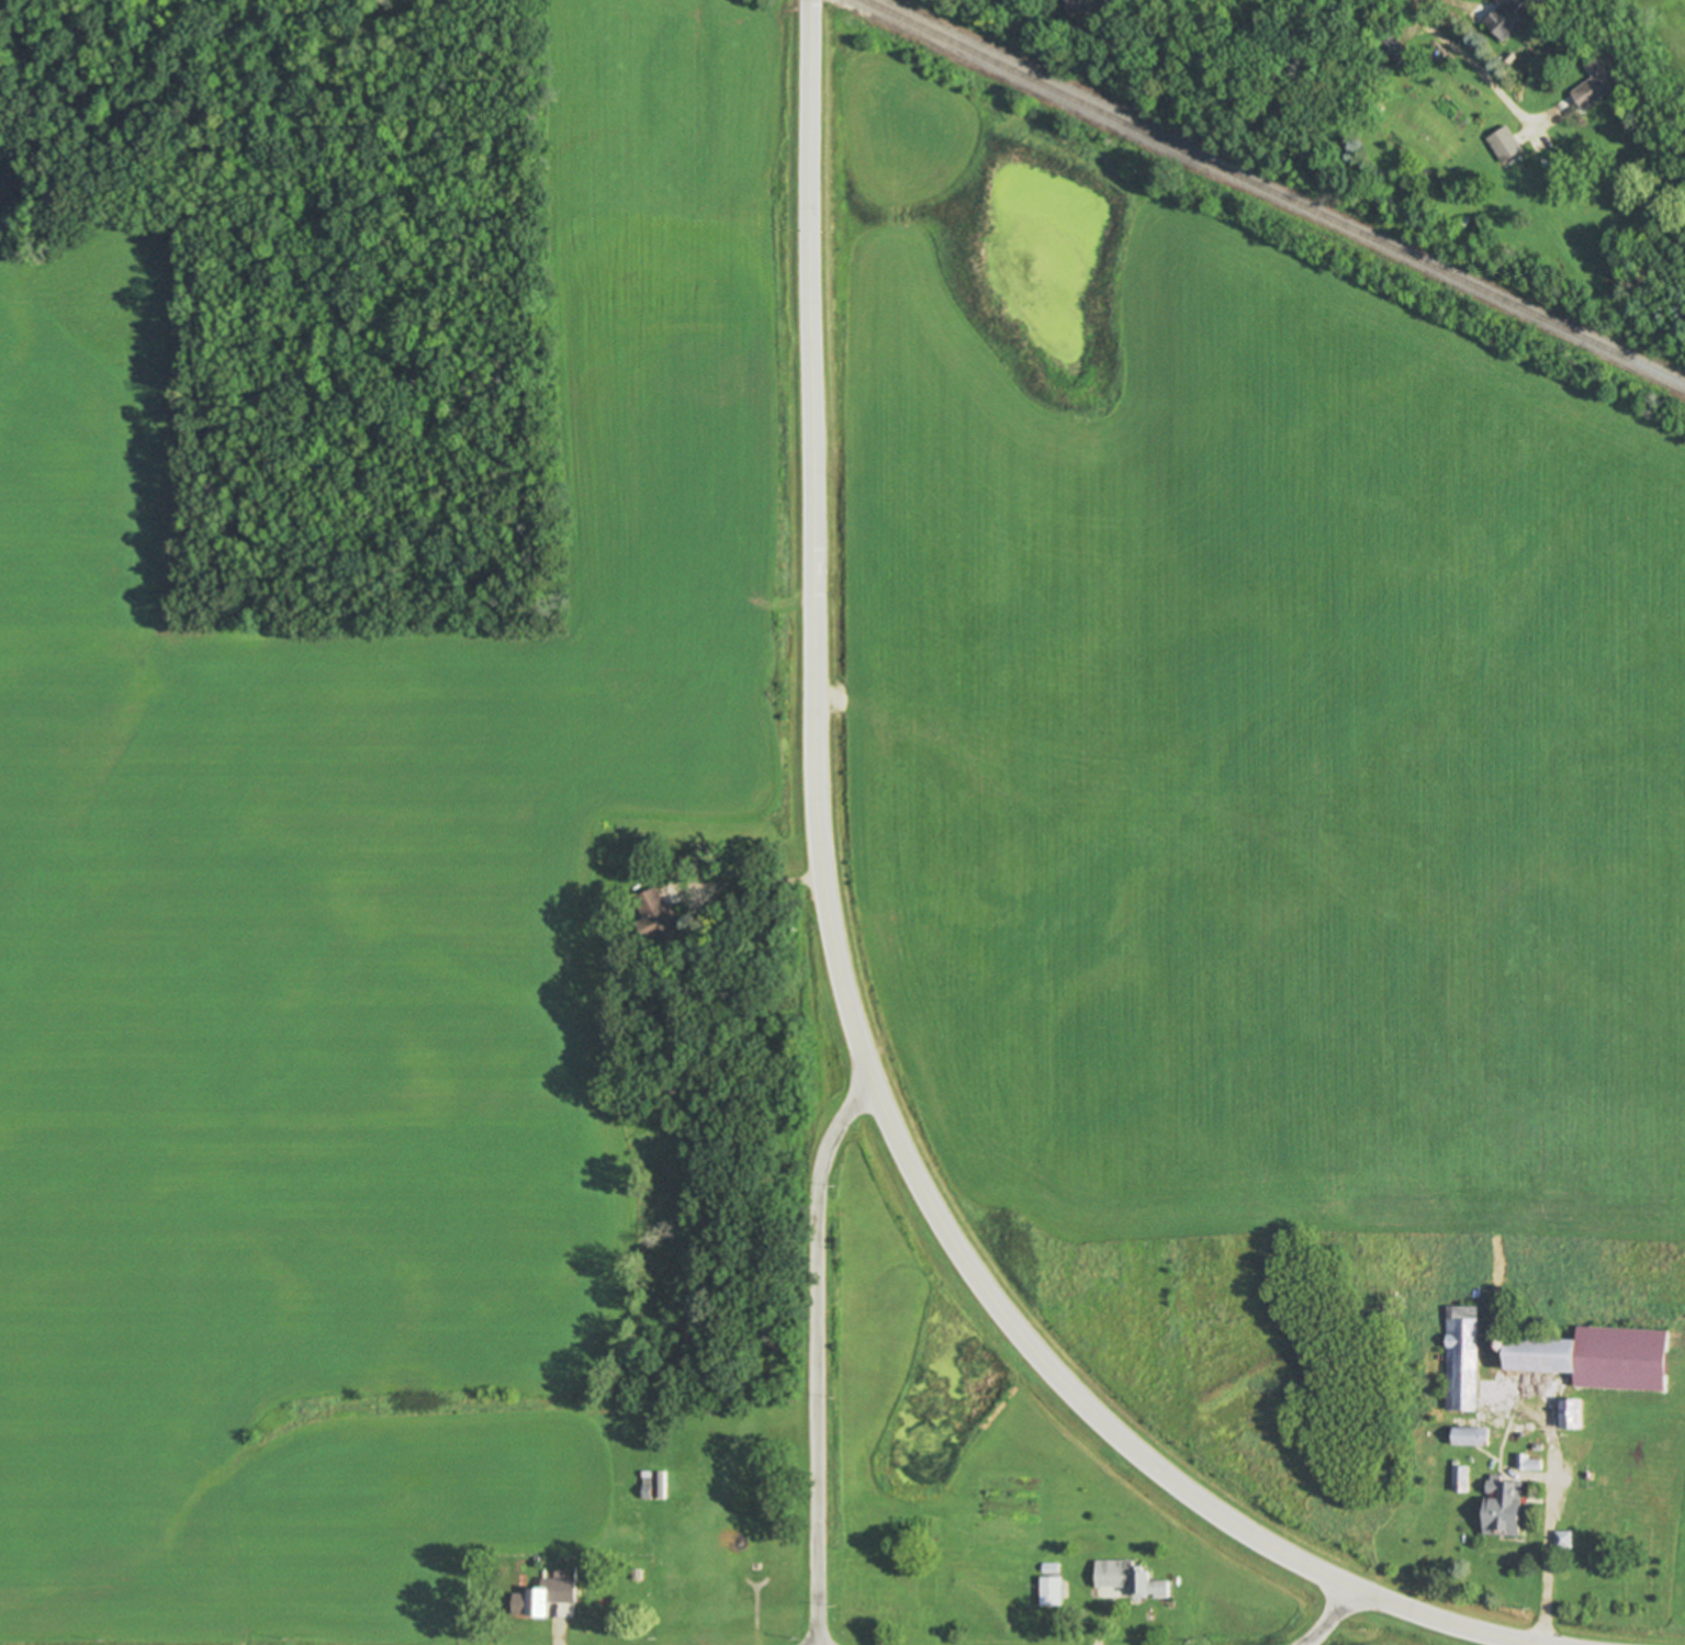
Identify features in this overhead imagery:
building: (1085, 7)
building: (1504, 19)
building: (1393, 53)
road: (1473, 61)
building: (1595, 82)
building: (1503, 146)
railway: (1274, 191)
road: (749, 886)
building: (659, 920)
road: (847, 1000)
road: (813, 1356)
building: (1537, 1356)
building: (1460, 1360)
building: (1619, 1360)
building: (1569, 1415)
building: (1469, 1438)
building: (1527, 1465)
building: (1459, 1480)
building: (648, 1484)
building: (662, 1485)
building: (1501, 1509)
building: (1561, 1541)
road: (1550, 1550)
building: (638, 1574)
building: (1124, 1582)
building: (1048, 1592)
building: (551, 1595)
road: (1323, 1618)
road: (1097, 1632)

